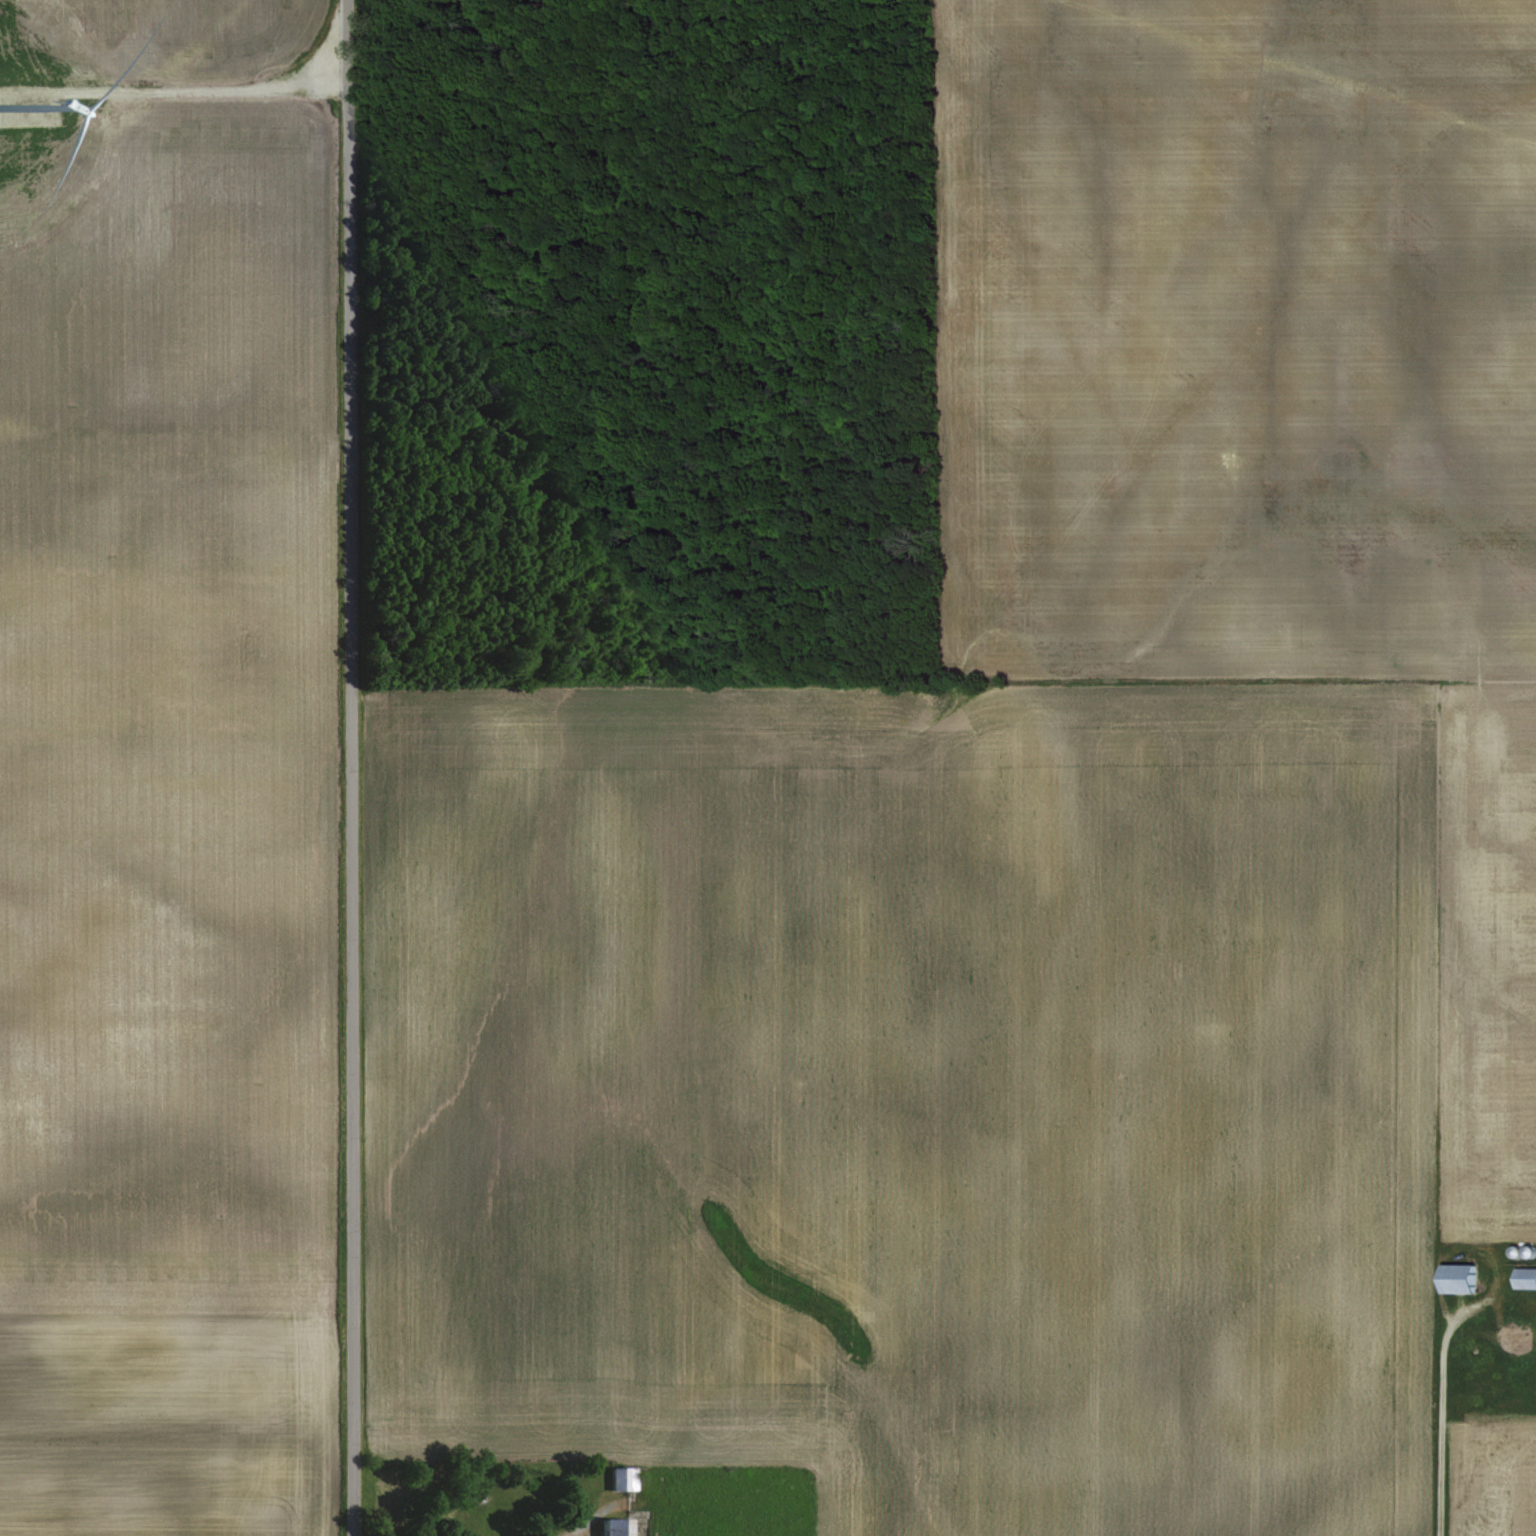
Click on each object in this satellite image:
road: (346, 767)
building: (1456, 1277)
road: (1438, 1399)
building: (615, 1477)
road: (588, 1521)
building: (621, 1524)

